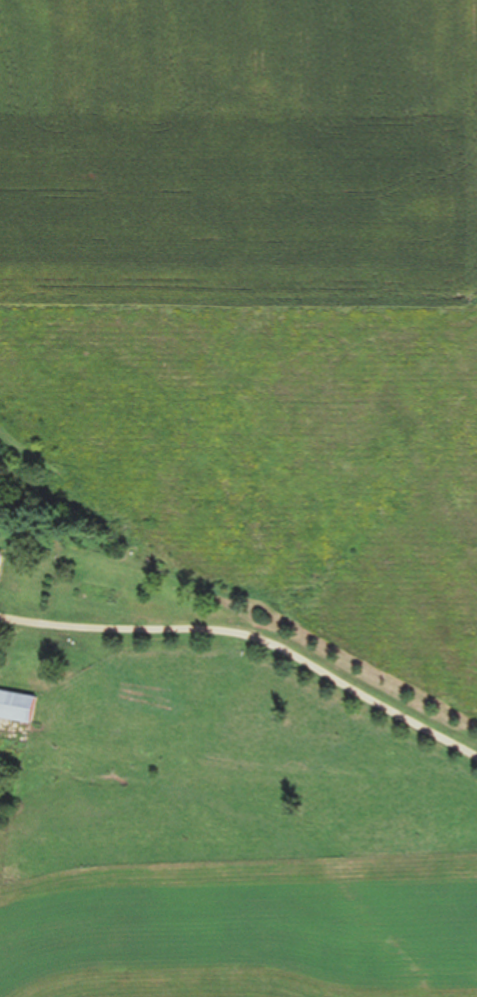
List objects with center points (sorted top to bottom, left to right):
building: (3, 563)
road: (252, 639)
building: (19, 705)

